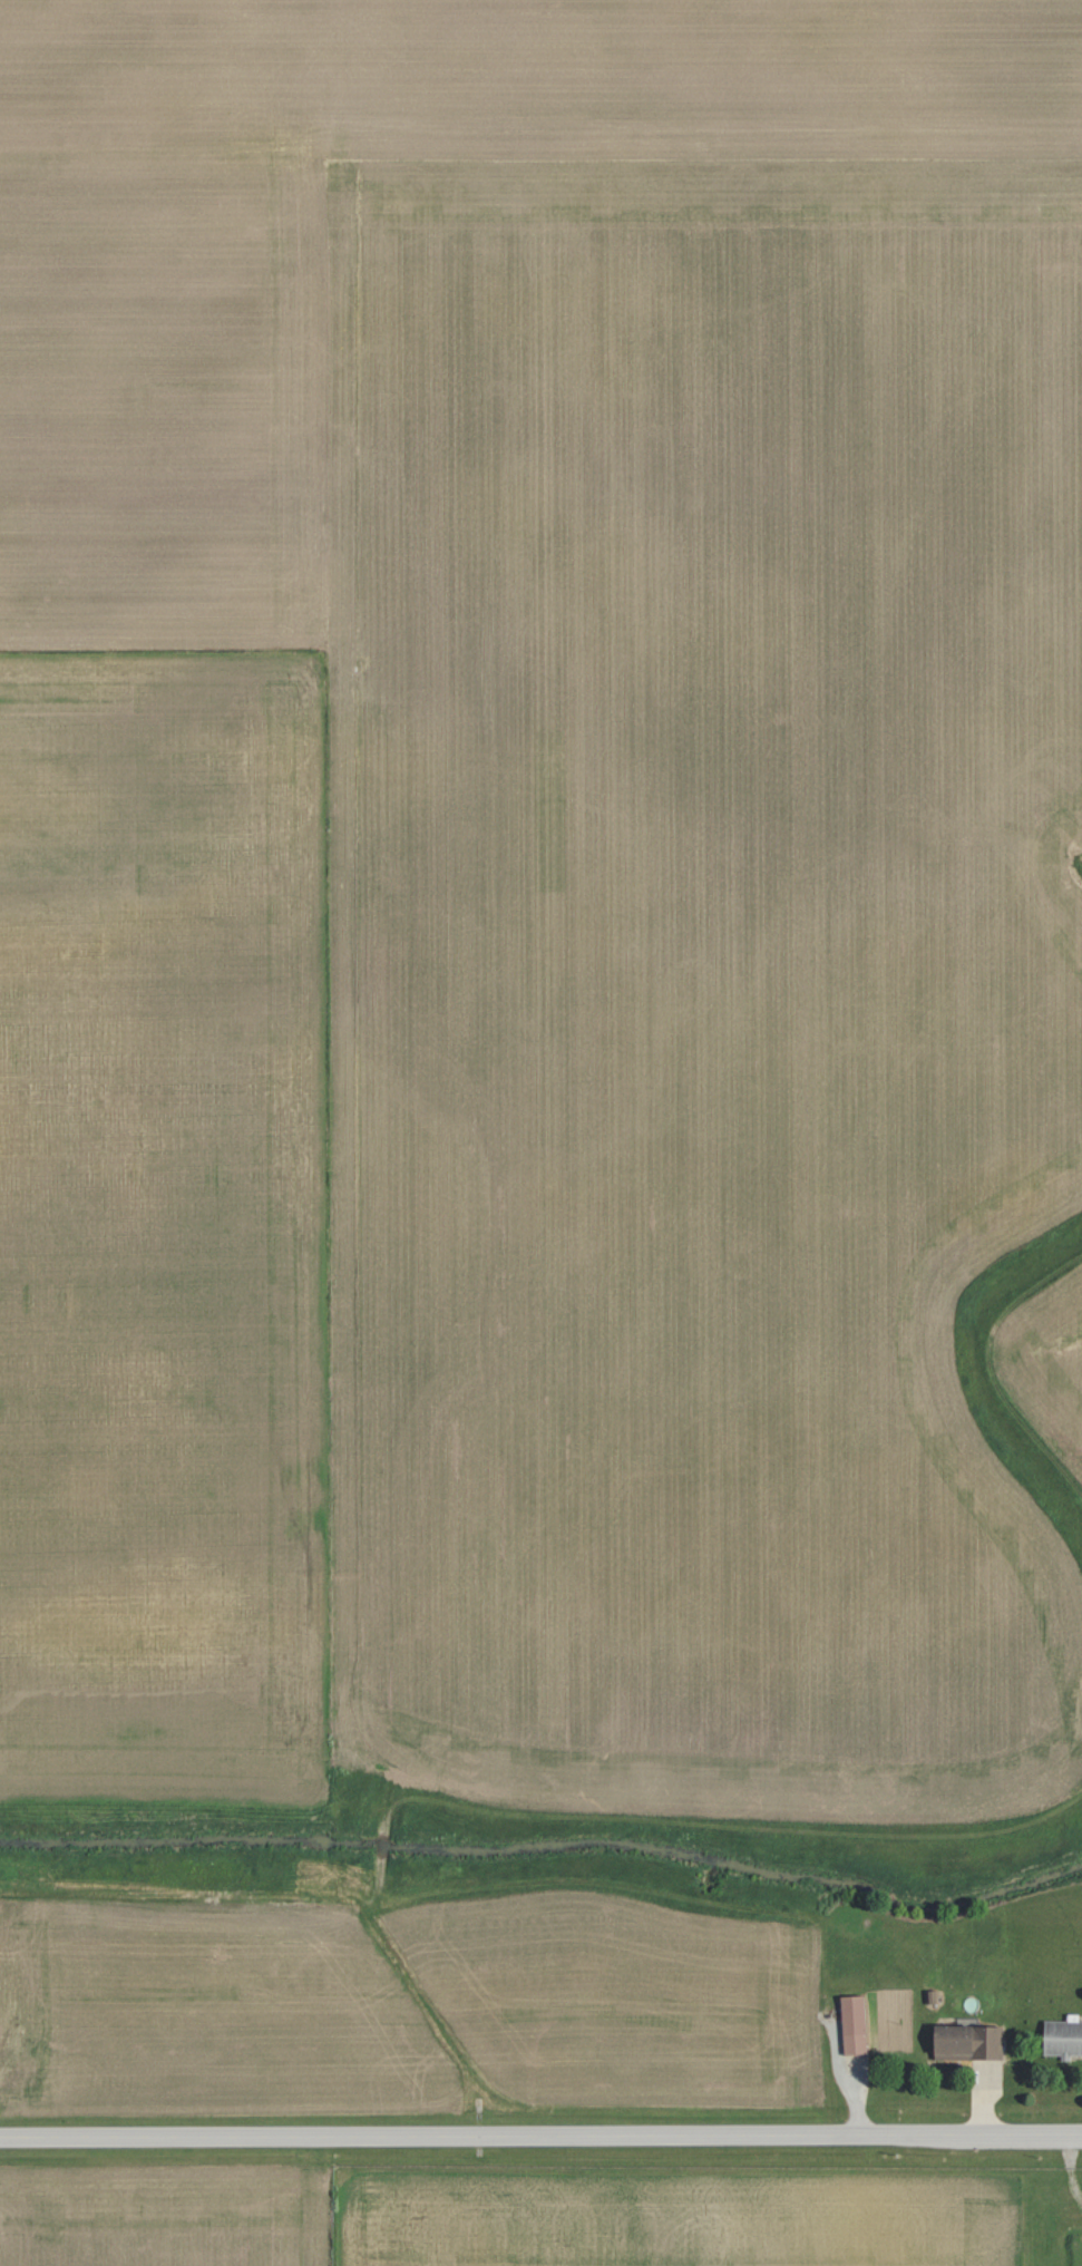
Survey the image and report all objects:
building: (857, 2024)
building: (1064, 2036)
building: (973, 2041)
road: (540, 2140)
airport: (708, 2217)

